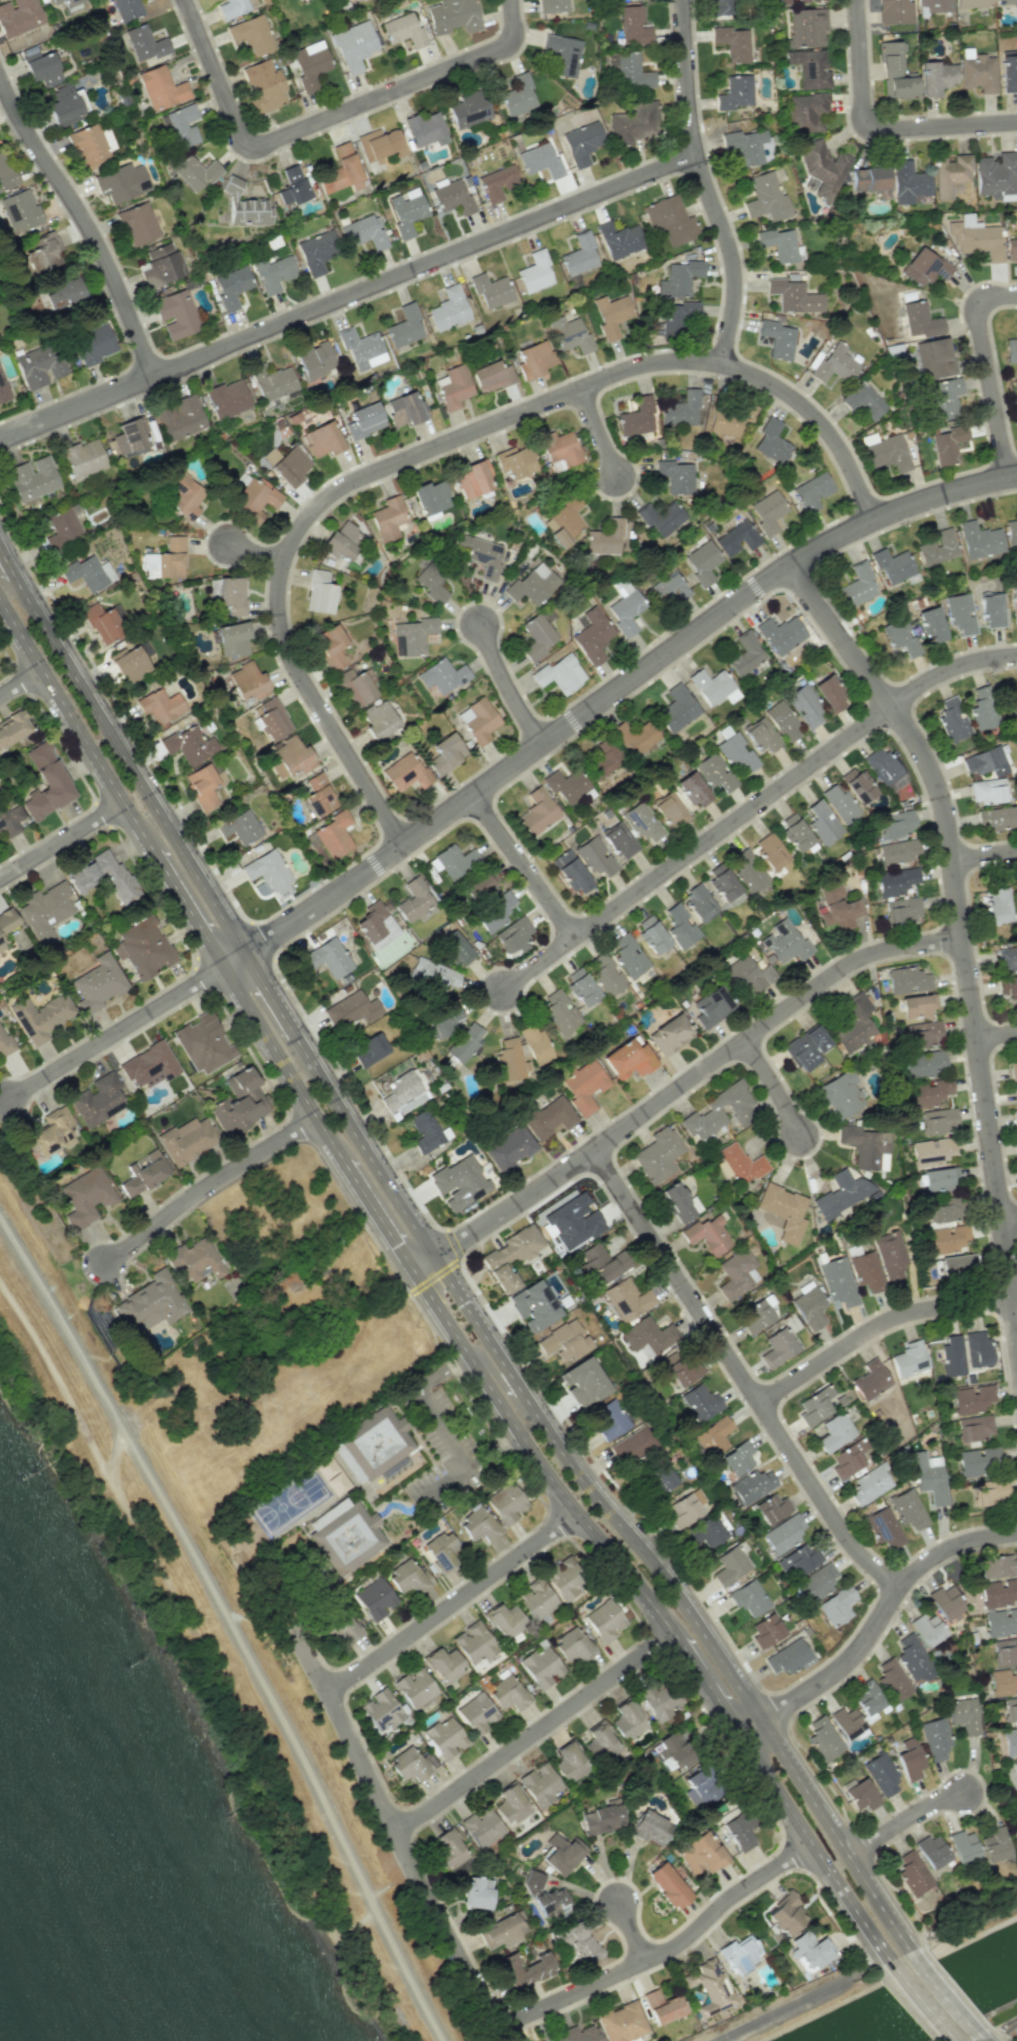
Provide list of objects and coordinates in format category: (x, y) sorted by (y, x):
building: (809, 0)
building: (779, 1)
building: (67, 2)
building: (972, 3)
building: (1009, 3)
building: (935, 5)
building: (553, 6)
building: (721, 7)
building: (232, 8)
building: (127, 9)
building: (894, 11)
building: (18, 16)
building: (453, 16)
building: (633, 26)
building: (806, 28)
building: (403, 30)
building: (252, 34)
building: (733, 43)
building: (144, 44)
building: (354, 45)
building: (563, 54)
building: (310, 64)
building: (42, 68)
building: (809, 68)
building: (632, 71)
building: (1008, 71)
building: (978, 72)
building: (895, 73)
building: (935, 77)
building: (263, 86)
building: (161, 88)
building: (735, 93)
building: (518, 96)
building: (63, 105)
building: (468, 110)
building: (807, 111)
road: (324, 118)
building: (635, 122)
building: (183, 125)
building: (426, 129)
road: (875, 132)
building: (582, 143)
building: (380, 145)
building: (745, 146)
building: (541, 160)
building: (822, 168)
building: (341, 171)
building: (6, 172)
building: (195, 172)
building: (950, 174)
building: (997, 176)
building: (870, 180)
building: (122, 182)
building: (907, 182)
building: (498, 183)
road: (704, 183)
building: (293, 186)
building: (453, 197)
building: (765, 198)
building: (245, 205)
building: (20, 210)
building: (406, 210)
road: (87, 220)
building: (670, 220)
building: (138, 224)
building: (363, 232)
building: (975, 238)
building: (619, 239)
building: (780, 245)
building: (1011, 249)
building: (317, 252)
building: (43, 253)
building: (579, 255)
building: (160, 266)
building: (924, 268)
building: (534, 272)
building: (273, 273)
building: (679, 278)
building: (231, 286)
building: (491, 291)
building: (62, 293)
building: (793, 296)
road: (347, 297)
building: (448, 309)
building: (176, 314)
building: (611, 314)
building: (677, 317)
building: (920, 320)
building: (404, 327)
building: (569, 334)
building: (778, 339)
building: (93, 344)
building: (362, 349)
building: (1010, 349)
building: (315, 359)
building: (534, 359)
building: (934, 359)
building: (835, 364)
building: (39, 365)
road: (986, 372)
building: (491, 376)
building: (273, 383)
building: (454, 387)
building: (3, 389)
building: (945, 398)
building: (227, 399)
building: (863, 400)
building: (1016, 405)
building: (404, 409)
building: (681, 409)
building: (179, 418)
building: (636, 418)
building: (728, 419)
building: (363, 420)
road: (597, 435)
building: (130, 436)
building: (322, 439)
building: (770, 442)
road: (440, 444)
building: (947, 445)
building: (560, 450)
building: (888, 453)
building: (82, 458)
building: (515, 462)
building: (287, 464)
building: (675, 476)
building: (32, 478)
building: (473, 479)
building: (811, 492)
building: (186, 496)
building: (430, 497)
building: (255, 500)
building: (767, 511)
building: (566, 513)
building: (388, 518)
building: (660, 518)
building: (59, 527)
building: (1011, 530)
building: (557, 538)
building: (604, 538)
building: (737, 539)
building: (979, 540)
building: (343, 541)
building: (937, 547)
road: (247, 549)
building: (483, 556)
building: (166, 560)
road: (6, 562)
building: (701, 562)
building: (892, 566)
building: (88, 572)
building: (430, 583)
building: (532, 584)
building: (857, 585)
building: (668, 588)
building: (319, 593)
building: (231, 596)
building: (1013, 600)
building: (624, 608)
building: (991, 609)
building: (959, 613)
building: (102, 623)
building: (931, 624)
building: (780, 634)
building: (412, 635)
building: (592, 635)
building: (537, 636)
building: (900, 637)
building: (232, 639)
building: (331, 647)
building: (745, 654)
building: (130, 663)
road: (949, 669)
building: (559, 674)
building: (441, 676)
road: (20, 682)
building: (246, 682)
road: (503, 686)
road: (615, 686)
building: (713, 686)
building: (355, 687)
building: (829, 693)
building: (804, 705)
building: (160, 706)
building: (983, 708)
building: (677, 709)
building: (1013, 709)
building: (271, 718)
building: (952, 719)
building: (378, 720)
building: (478, 720)
building: (782, 722)
building: (12, 727)
road: (76, 727)
building: (635, 736)
building: (761, 736)
building: (189, 745)
building: (443, 753)
building: (737, 754)
building: (291, 759)
building: (601, 761)
building: (985, 761)
road: (126, 764)
building: (884, 769)
building: (405, 772)
building: (715, 772)
building: (46, 782)
building: (204, 785)
building: (566, 785)
building: (858, 785)
building: (692, 789)
building: (986, 791)
building: (319, 795)
building: (840, 804)
building: (669, 810)
building: (537, 812)
building: (10, 818)
building: (995, 818)
building: (641, 822)
building: (822, 822)
building: (896, 823)
building: (240, 827)
building: (794, 832)
building: (334, 835)
road: (61, 839)
building: (619, 840)
road: (693, 847)
building: (771, 851)
building: (897, 851)
building: (594, 857)
road: (983, 857)
building: (455, 861)
road: (522, 866)
building: (571, 872)
building: (748, 872)
building: (269, 873)
building: (103, 876)
building: (896, 881)
building: (722, 882)
building: (480, 888)
building: (414, 900)
building: (699, 902)
building: (998, 905)
building: (836, 907)
road: (187, 908)
building: (45, 911)
building: (903, 911)
building: (492, 920)
building: (7, 921)
building: (375, 926)
building: (681, 926)
building: (514, 935)
building: (652, 935)
building: (784, 943)
building: (1, 944)
road: (960, 944)
building: (143, 947)
building: (455, 949)
building: (627, 956)
road: (232, 958)
building: (328, 958)
building: (1007, 959)
building: (606, 974)
building: (747, 974)
building: (433, 975)
building: (908, 980)
building: (97, 984)
building: (1008, 986)
building: (581, 987)
road: (268, 993)
building: (711, 1006)
building: (918, 1006)
building: (352, 1011)
building: (559, 1011)
building: (41, 1017)
building: (446, 1021)
building: (854, 1022)
road: (111, 1033)
building: (669, 1034)
building: (921, 1034)
road: (995, 1035)
building: (4, 1042)
building: (204, 1044)
building: (464, 1044)
building: (806, 1048)
building: (369, 1049)
building: (520, 1053)
building: (629, 1060)
road: (282, 1062)
building: (923, 1063)
building: (148, 1066)
building: (1013, 1067)
building: (584, 1087)
road: (777, 1087)
road: (680, 1088)
building: (404, 1091)
building: (930, 1092)
building: (1016, 1093)
building: (840, 1094)
building: (98, 1100)
building: (241, 1102)
building: (720, 1111)
building: (550, 1118)
building: (1014, 1118)
building: (938, 1121)
building: (52, 1132)
building: (426, 1132)
building: (187, 1140)
building: (866, 1147)
building: (509, 1149)
building: (932, 1151)
building: (658, 1155)
building: (741, 1164)
building: (145, 1173)
building: (938, 1179)
building: (459, 1183)
road: (202, 1189)
building: (842, 1193)
building: (86, 1197)
building: (680, 1202)
building: (945, 1209)
building: (783, 1212)
road: (378, 1216)
road: (1007, 1219)
building: (708, 1235)
building: (948, 1239)
building: (890, 1254)
building: (511, 1256)
building: (194, 1261)
building: (602, 1264)
building: (954, 1265)
building: (866, 1271)
building: (737, 1274)
building: (838, 1282)
building: (626, 1299)
building: (151, 1303)
building: (532, 1305)
building: (809, 1305)
building: (757, 1318)
road: (874, 1327)
building: (647, 1337)
building: (563, 1341)
building: (777, 1348)
building: (977, 1349)
building: (952, 1355)
building: (909, 1359)
building: (680, 1368)
road: (742, 1373)
building: (870, 1380)
building: (582, 1382)
road: (505, 1386)
building: (972, 1399)
building: (700, 1403)
building: (815, 1405)
road: (430, 1410)
building: (608, 1419)
building: (975, 1428)
building: (835, 1432)
building: (713, 1436)
building: (377, 1443)
building: (632, 1445)
road: (493, 1450)
building: (737, 1458)
building: (848, 1458)
road: (539, 1461)
building: (979, 1461)
building: (330, 1475)
building: (928, 1478)
building: (664, 1479)
road: (442, 1484)
building: (869, 1484)
building: (753, 1486)
building: (990, 1494)
road: (594, 1496)
building: (506, 1503)
park: (280, 1506)
building: (684, 1508)
building: (772, 1508)
building: (908, 1509)
building: (478, 1526)
building: (884, 1527)
building: (705, 1534)
building: (784, 1534)
building: (346, 1536)
building: (442, 1550)
building: (799, 1559)
building: (731, 1564)
building: (998, 1566)
building: (409, 1577)
building: (564, 1579)
building: (817, 1582)
building: (998, 1593)
building: (374, 1598)
building: (748, 1598)
building: (537, 1601)
building: (945, 1602)
road: (451, 1603)
building: (837, 1605)
building: (505, 1620)
building: (604, 1620)
building: (1001, 1622)
road: (878, 1625)
road: (230, 1626)
building: (343, 1629)
building: (927, 1629)
building: (766, 1630)
building: (474, 1643)
building: (572, 1645)
building: (1005, 1650)
building: (788, 1657)
building: (913, 1659)
building: (444, 1664)
building: (541, 1666)
building: (893, 1680)
building: (1003, 1681)
building: (415, 1687)
road: (710, 1687)
building: (506, 1692)
building: (868, 1698)
building: (660, 1701)
building: (1010, 1708)
building: (381, 1709)
building: (476, 1713)
building: (963, 1715)
building: (627, 1719)
building: (846, 1722)
road: (534, 1731)
building: (444, 1738)
building: (824, 1738)
building: (935, 1738)
building: (600, 1743)
building: (1010, 1743)
building: (672, 1751)
building: (909, 1759)
building: (569, 1762)
building: (412, 1764)
building: (882, 1774)
building: (1015, 1774)
building: (541, 1784)
building: (701, 1787)
building: (862, 1795)
building: (511, 1804)
building: (602, 1819)
road: (903, 1820)
building: (483, 1827)
building: (650, 1828)
building: (738, 1832)
building: (994, 1846)
building: (963, 1847)
road: (814, 1848)
building: (449, 1850)
building: (932, 1851)
building: (700, 1853)
building: (562, 1854)
building: (911, 1871)
building: (668, 1885)
building: (473, 1893)
building: (545, 1896)
building: (785, 1914)
road: (961, 1926)
building: (501, 1932)
road: (633, 1934)
building: (579, 1943)
river: (53, 1947)
building: (810, 1951)
building: (739, 1954)
building: (524, 1970)
road: (476, 1987)
building: (709, 1987)
road: (941, 1996)
road: (805, 2000)
road: (921, 2001)
building: (662, 2007)
building: (623, 2023)
road: (1000, 2030)
building: (579, 2034)
road: (981, 2039)

